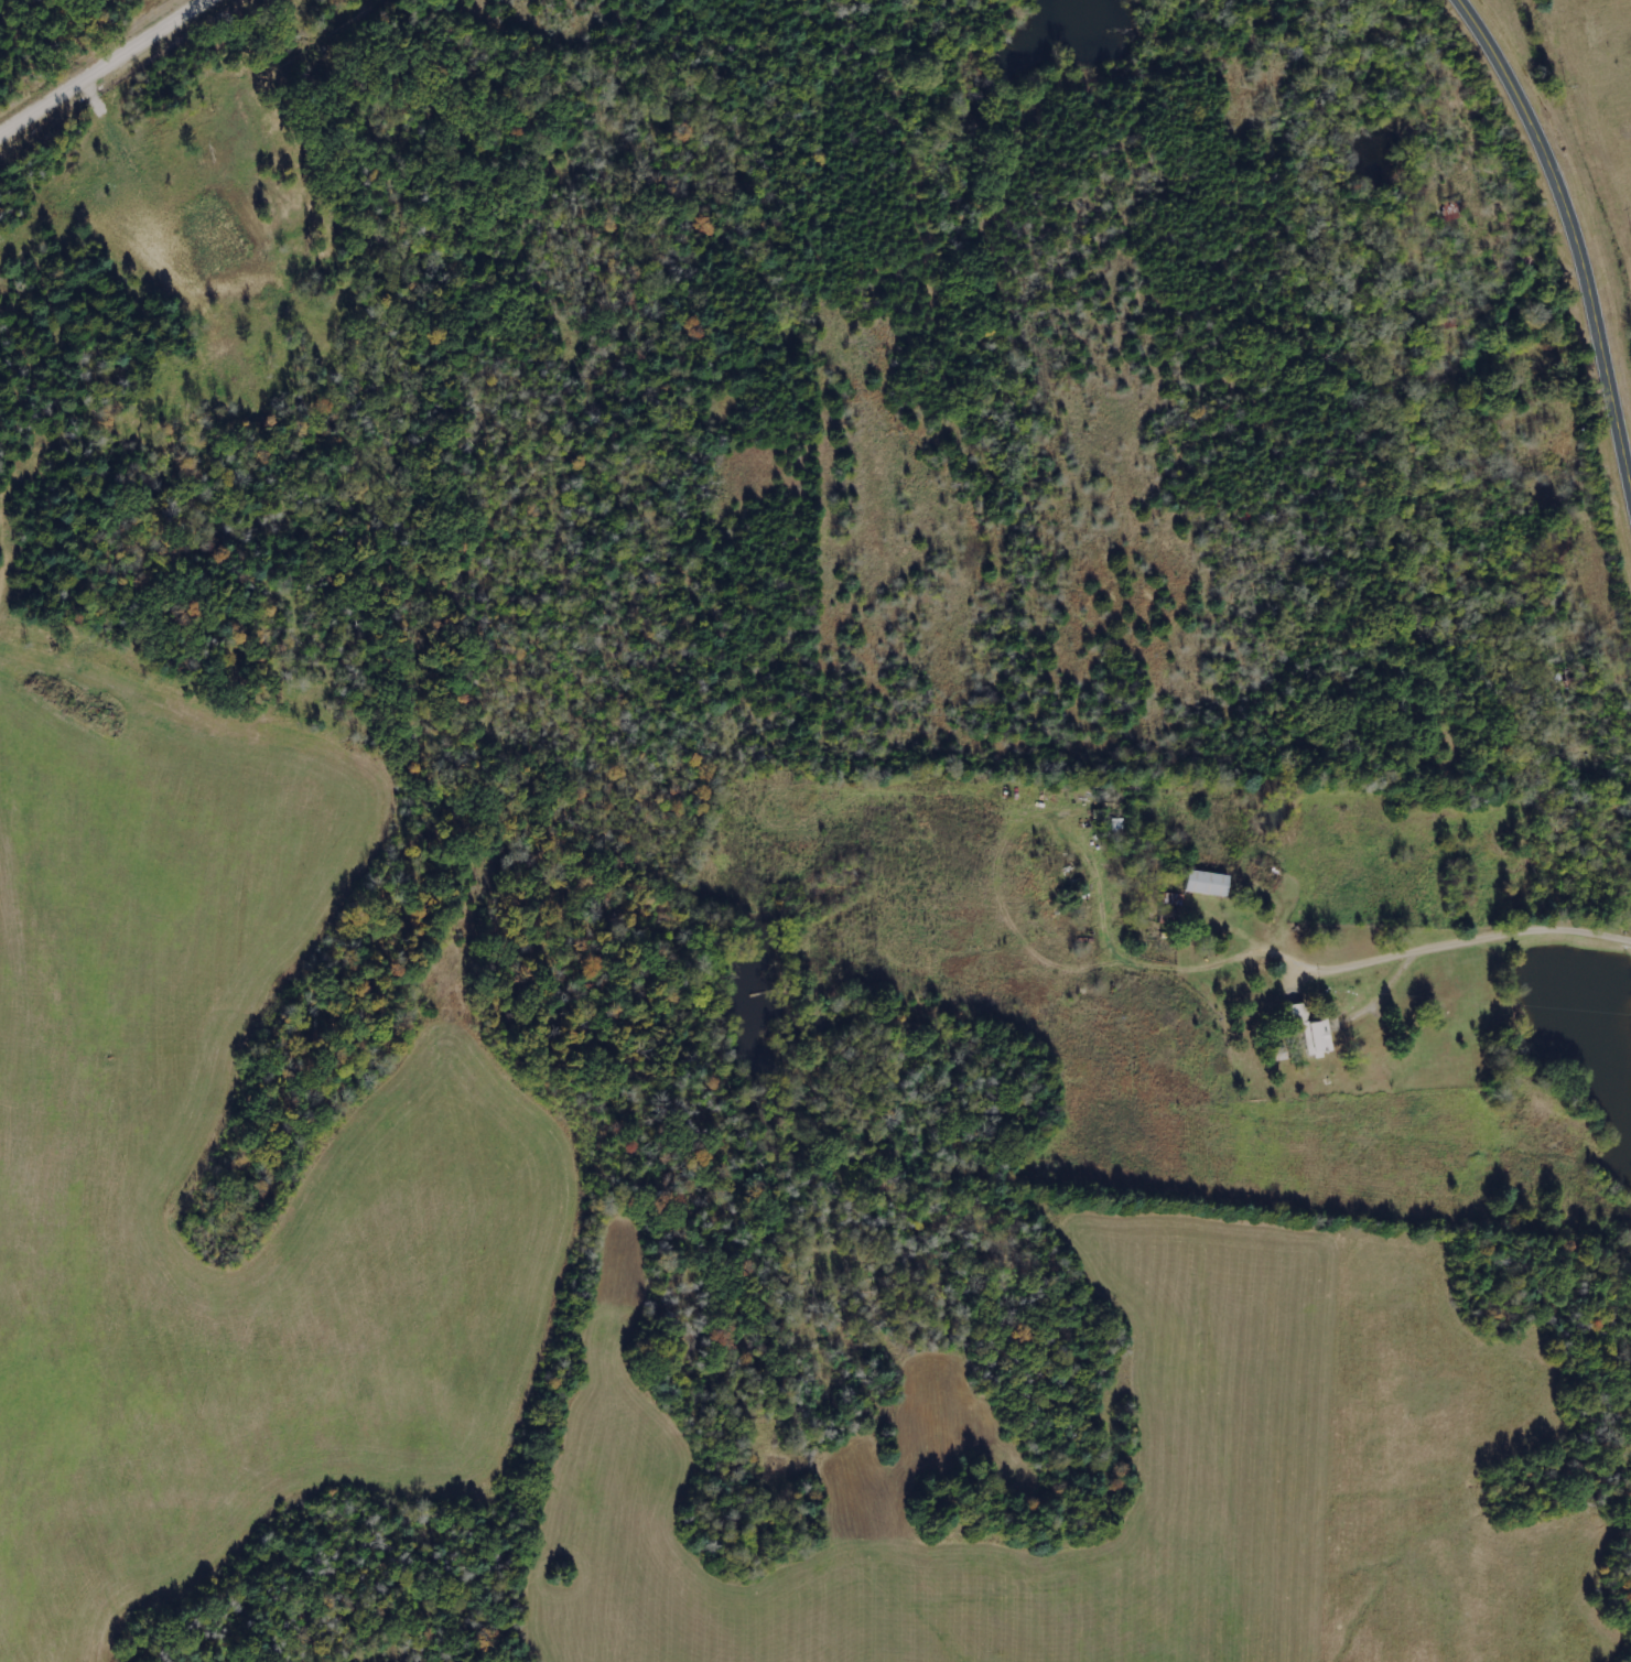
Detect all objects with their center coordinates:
road: (99, 66)
road: (1573, 228)
building: (1205, 883)
road: (1401, 954)
building: (1309, 1030)

